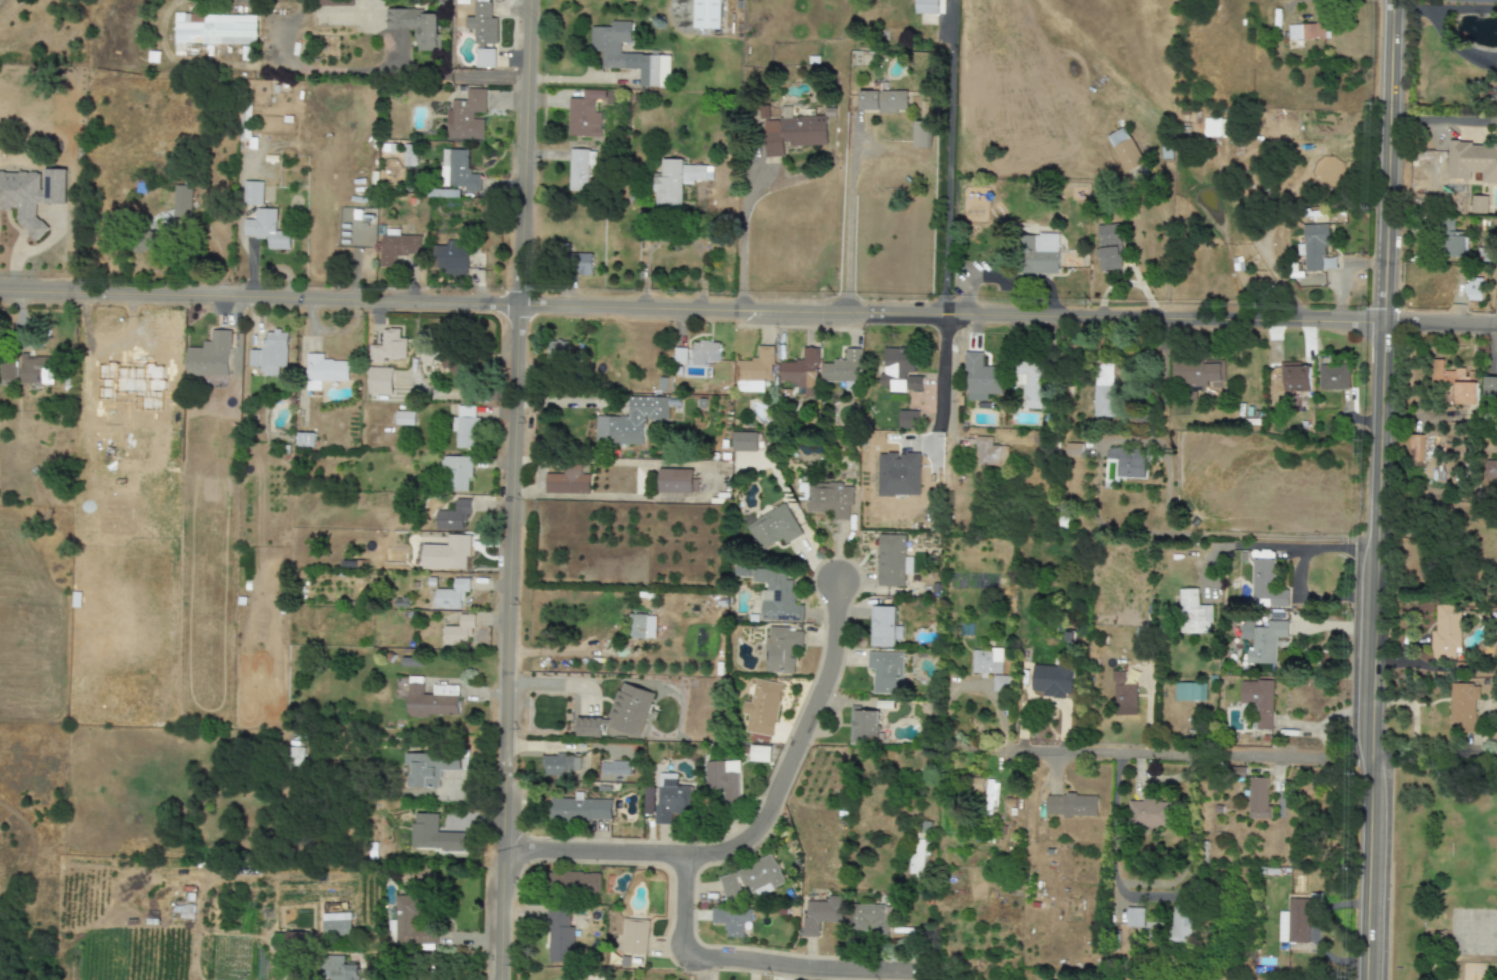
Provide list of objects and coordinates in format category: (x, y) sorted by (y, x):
building: (768, 0)
road: (1286, 0)
building: (335, 3)
building: (929, 4)
road: (1411, 7)
road: (1464, 8)
building: (707, 14)
building: (482, 24)
building: (416, 26)
building: (214, 30)
road: (270, 32)
building: (1306, 32)
building: (1315, 43)
road: (1455, 44)
building: (629, 55)
building: (485, 59)
road: (189, 61)
road: (402, 74)
building: (883, 101)
building: (1184, 113)
building: (585, 115)
building: (466, 117)
building: (1197, 117)
road: (1442, 119)
building: (1213, 127)
building: (793, 134)
building: (920, 134)
building: (1125, 150)
building: (1166, 151)
building: (409, 155)
road: (948, 156)
building: (1471, 159)
building: (580, 168)
building: (460, 170)
building: (677, 182)
building: (253, 193)
building: (31, 196)
building: (181, 204)
building: (1479, 204)
road: (848, 214)
building: (1437, 222)
building: (267, 229)
building: (1109, 234)
road: (741, 235)
building: (1457, 243)
building: (1314, 246)
building: (397, 248)
building: (1041, 254)
building: (452, 257)
building: (1111, 257)
building: (581, 265)
building: (1296, 267)
road: (1008, 276)
building: (1480, 288)
road: (748, 307)
building: (389, 347)
building: (558, 351)
building: (270, 353)
building: (704, 353)
building: (680, 355)
building: (210, 356)
road: (98, 359)
building: (453, 363)
building: (36, 370)
building: (843, 370)
building: (901, 370)
building: (324, 371)
building: (754, 371)
building: (7, 372)
building: (144, 372)
building: (801, 372)
building: (1195, 374)
road: (951, 376)
building: (1333, 377)
building: (981, 378)
building: (1297, 379)
building: (380, 381)
building: (1457, 382)
building: (1031, 383)
building: (1490, 386)
building: (1104, 390)
building: (404, 418)
building: (908, 419)
building: (629, 421)
building: (465, 428)
building: (97, 431)
building: (305, 440)
building: (744, 442)
building: (133, 445)
building: (1416, 448)
building: (1074, 450)
building: (990, 453)
building: (1128, 462)
building: (1491, 469)
building: (457, 473)
building: (899, 474)
building: (675, 481)
building: (568, 482)
road: (509, 489)
road: (1376, 489)
road: (608, 494)
building: (829, 500)
building: (453, 516)
building: (774, 528)
road: (1239, 535)
building: (447, 554)
building: (892, 561)
road: (1296, 574)
building: (1267, 584)
building: (451, 595)
building: (778, 597)
building: (1194, 614)
building: (643, 626)
building: (884, 627)
building: (458, 631)
building: (1445, 632)
building: (781, 649)
building: (987, 662)
building: (886, 672)
building: (1053, 680)
road: (557, 684)
building: (1002, 684)
building: (1123, 691)
building: (1189, 692)
building: (431, 700)
building: (1258, 701)
building: (1462, 707)
building: (763, 708)
building: (629, 709)
building: (863, 725)
building: (589, 727)
road: (1432, 750)
road: (1163, 753)
building: (759, 754)
building: (561, 764)
building: (430, 768)
building: (615, 768)
building: (723, 780)
building: (991, 795)
building: (671, 798)
building: (1259, 799)
building: (649, 801)
building: (1071, 806)
building: (580, 809)
building: (1149, 814)
road: (759, 825)
building: (433, 835)
park: (1475, 850)
building: (919, 857)
building: (761, 876)
building: (581, 882)
building: (730, 887)
road: (1149, 897)
building: (821, 914)
building: (1135, 917)
building: (870, 919)
building: (732, 920)
building: (1294, 922)
building: (336, 924)
building: (410, 924)
building: (1182, 924)
park: (1464, 931)
park: (1488, 932)
building: (559, 936)
building: (635, 936)
building: (294, 942)
road: (739, 960)
building: (341, 969)

